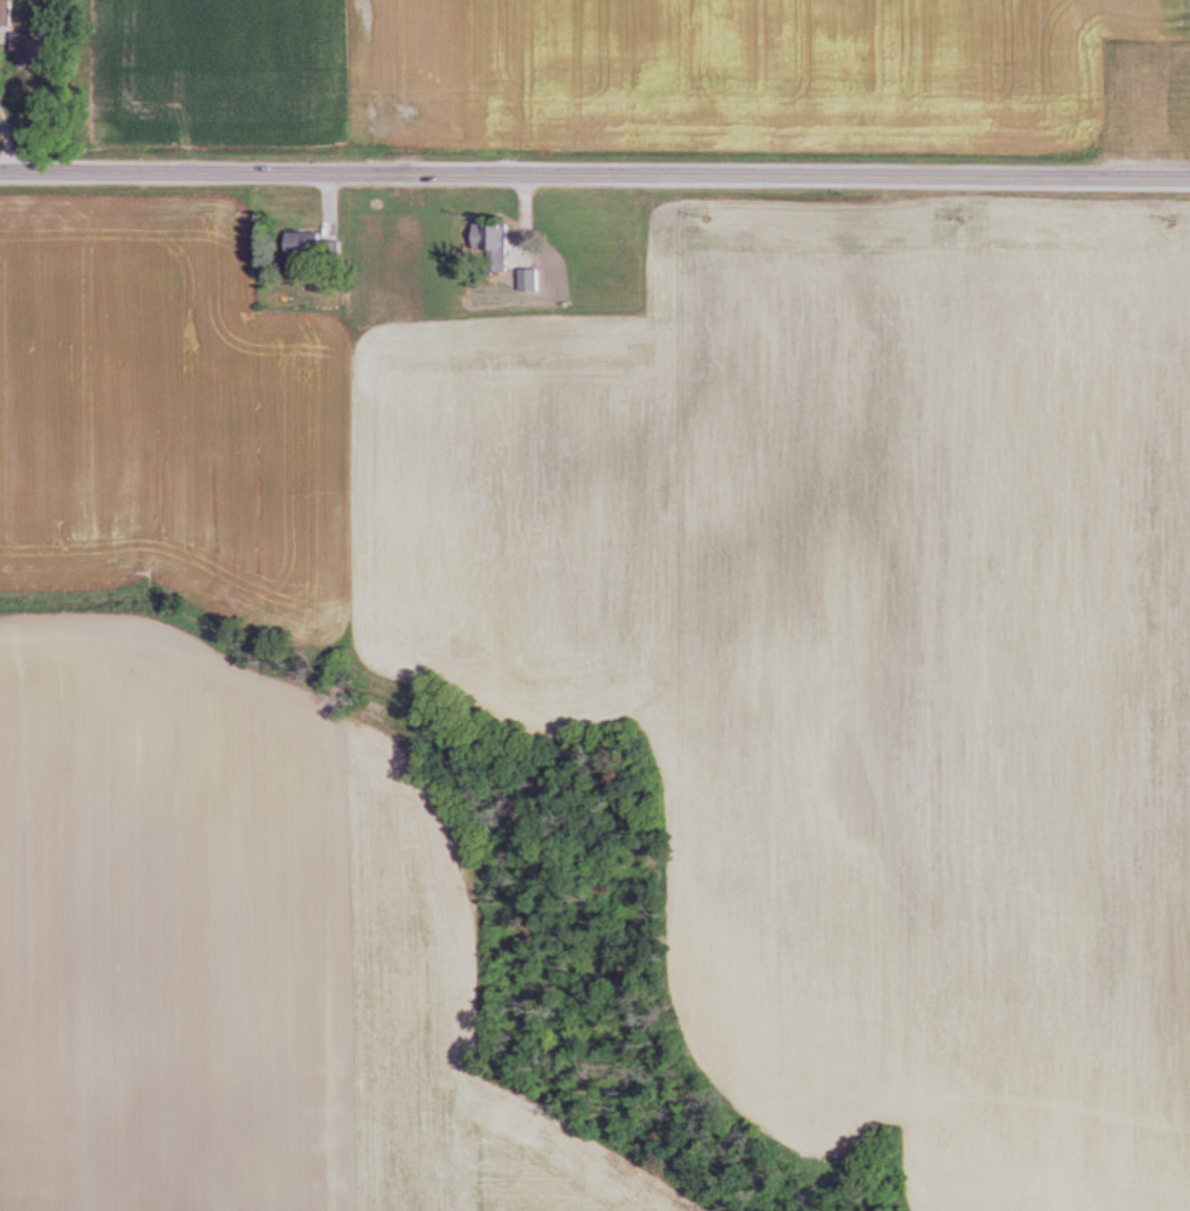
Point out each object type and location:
building: (7, 13)
building: (1178, 115)
road: (594, 179)
building: (306, 247)
building: (490, 249)
building: (524, 281)

